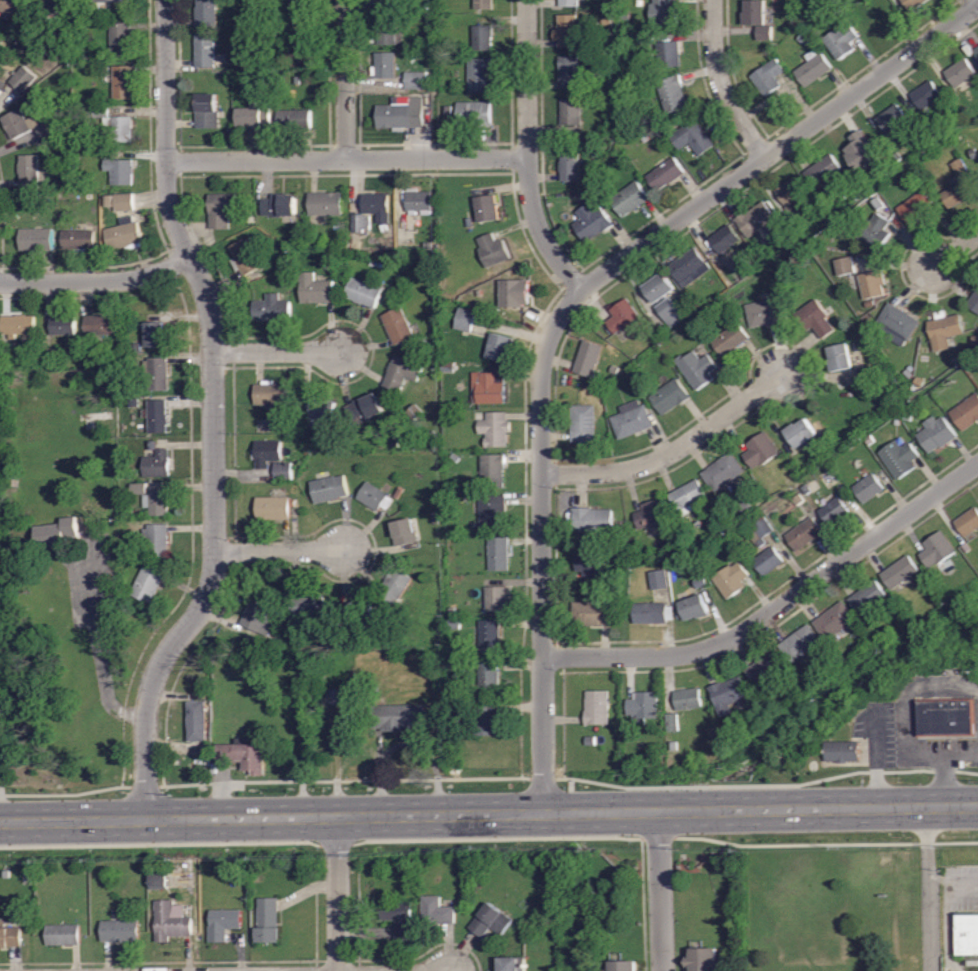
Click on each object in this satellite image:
road: (977, 0)
building: (111, 1)
building: (384, 1)
building: (835, 2)
building: (569, 3)
building: (483, 4)
building: (915, 4)
building: (64, 7)
building: (17, 8)
building: (206, 13)
building: (300, 13)
building: (663, 13)
building: (758, 20)
building: (606, 21)
building: (67, 29)
building: (389, 30)
building: (566, 32)
building: (483, 38)
building: (121, 39)
building: (645, 39)
building: (803, 39)
building: (841, 42)
building: (300, 50)
building: (205, 51)
building: (976, 52)
building: (668, 55)
building: (423, 58)
building: (603, 63)
building: (260, 64)
building: (382, 65)
building: (813, 69)
building: (570, 73)
building: (961, 73)
building: (480, 75)
building: (767, 76)
road: (345, 79)
building: (23, 80)
building: (415, 81)
building: (124, 83)
road: (722, 84)
building: (2, 86)
building: (672, 94)
building: (926, 95)
building: (605, 101)
building: (448, 111)
building: (101, 112)
building: (208, 112)
building: (571, 112)
building: (474, 114)
building: (402, 115)
building: (254, 118)
building: (892, 118)
building: (295, 120)
building: (20, 124)
building: (633, 125)
building: (119, 127)
building: (48, 130)
building: (107, 138)
building: (643, 138)
building: (693, 138)
building: (221, 139)
building: (933, 140)
road: (779, 147)
road: (528, 152)
building: (863, 152)
building: (975, 153)
building: (896, 156)
road: (347, 158)
building: (570, 165)
building: (960, 168)
building: (121, 170)
building: (29, 171)
building: (824, 171)
building: (666, 174)
building: (586, 192)
building: (793, 195)
building: (956, 195)
building: (630, 199)
building: (111, 201)
building: (419, 201)
building: (124, 202)
building: (844, 202)
building: (326, 204)
building: (878, 204)
building: (280, 206)
building: (377, 207)
building: (917, 207)
building: (488, 209)
building: (221, 210)
building: (757, 219)
building: (792, 221)
building: (591, 222)
building: (360, 223)
building: (469, 223)
building: (834, 228)
building: (876, 232)
building: (125, 235)
building: (725, 239)
building: (37, 240)
building: (78, 240)
building: (493, 251)
road: (955, 251)
building: (245, 258)
building: (844, 266)
building: (689, 268)
road: (97, 280)
building: (873, 284)
building: (659, 288)
building: (316, 290)
building: (363, 293)
building: (479, 293)
building: (517, 293)
building: (790, 293)
building: (974, 302)
building: (871, 304)
building: (271, 309)
building: (670, 311)
building: (766, 312)
building: (623, 317)
building: (816, 319)
building: (463, 321)
building: (101, 325)
building: (64, 326)
building: (398, 326)
building: (896, 326)
building: (17, 327)
building: (691, 331)
building: (945, 331)
building: (662, 332)
building: (154, 334)
building: (654, 338)
building: (425, 340)
building: (730, 340)
building: (975, 341)
building: (136, 347)
building: (858, 347)
building: (501, 348)
road: (277, 351)
building: (840, 357)
building: (49, 358)
building: (588, 359)
building: (448, 367)
building: (697, 369)
building: (911, 369)
building: (615, 370)
building: (401, 373)
building: (157, 374)
building: (909, 375)
building: (919, 384)
building: (489, 387)
building: (271, 395)
building: (670, 397)
building: (134, 403)
building: (363, 410)
building: (322, 412)
building: (416, 412)
building: (966, 414)
building: (158, 416)
road: (212, 417)
building: (907, 417)
building: (632, 420)
building: (896, 421)
building: (584, 424)
building: (496, 429)
building: (801, 433)
building: (936, 434)
building: (434, 437)
building: (394, 440)
building: (871, 440)
road: (671, 451)
building: (761, 451)
building: (266, 453)
building: (899, 459)
building: (455, 460)
building: (156, 462)
building: (283, 471)
building: (493, 471)
building: (723, 473)
building: (139, 489)
building: (329, 489)
building: (868, 489)
building: (805, 490)
building: (397, 494)
building: (687, 497)
building: (375, 498)
building: (798, 499)
building: (157, 503)
building: (743, 508)
building: (272, 509)
building: (492, 512)
building: (834, 512)
building: (451, 514)
building: (652, 515)
building: (436, 517)
building: (592, 520)
building: (969, 523)
building: (699, 525)
building: (760, 531)
building: (404, 533)
building: (58, 534)
building: (805, 534)
building: (623, 538)
building: (157, 540)
road: (541, 547)
building: (967, 549)
road: (283, 550)
building: (938, 550)
building: (643, 553)
building: (499, 554)
building: (768, 562)
building: (589, 564)
building: (900, 572)
building: (658, 580)
building: (731, 580)
building: (701, 583)
building: (149, 584)
building: (395, 586)
building: (868, 597)
building: (498, 599)
building: (308, 606)
building: (695, 607)
road: (777, 607)
building: (360, 610)
building: (454, 610)
building: (592, 614)
building: (652, 614)
building: (680, 616)
building: (258, 619)
building: (834, 621)
building: (456, 624)
building: (490, 637)
building: (394, 641)
building: (801, 644)
building: (277, 646)
road: (99, 653)
building: (849, 666)
building: (765, 669)
building: (489, 679)
building: (377, 689)
building: (728, 695)
building: (337, 698)
building: (688, 700)
building: (597, 708)
building: (644, 708)
building: (399, 718)
building: (486, 718)
building: (947, 718)
building: (197, 722)
building: (673, 722)
building: (750, 732)
building: (591, 741)
building: (672, 747)
building: (843, 752)
road: (926, 753)
building: (245, 756)
road: (945, 764)
road: (876, 765)
road: (489, 819)
building: (160, 882)
road: (930, 890)
road: (658, 894)
road: (335, 896)
building: (436, 911)
building: (399, 917)
road: (950, 917)
building: (267, 919)
building: (491, 919)
building: (168, 920)
building: (223, 922)
building: (119, 929)
building: (61, 933)
building: (967, 933)
building: (9, 935)
building: (702, 959)
building: (512, 963)
building: (621, 965)

